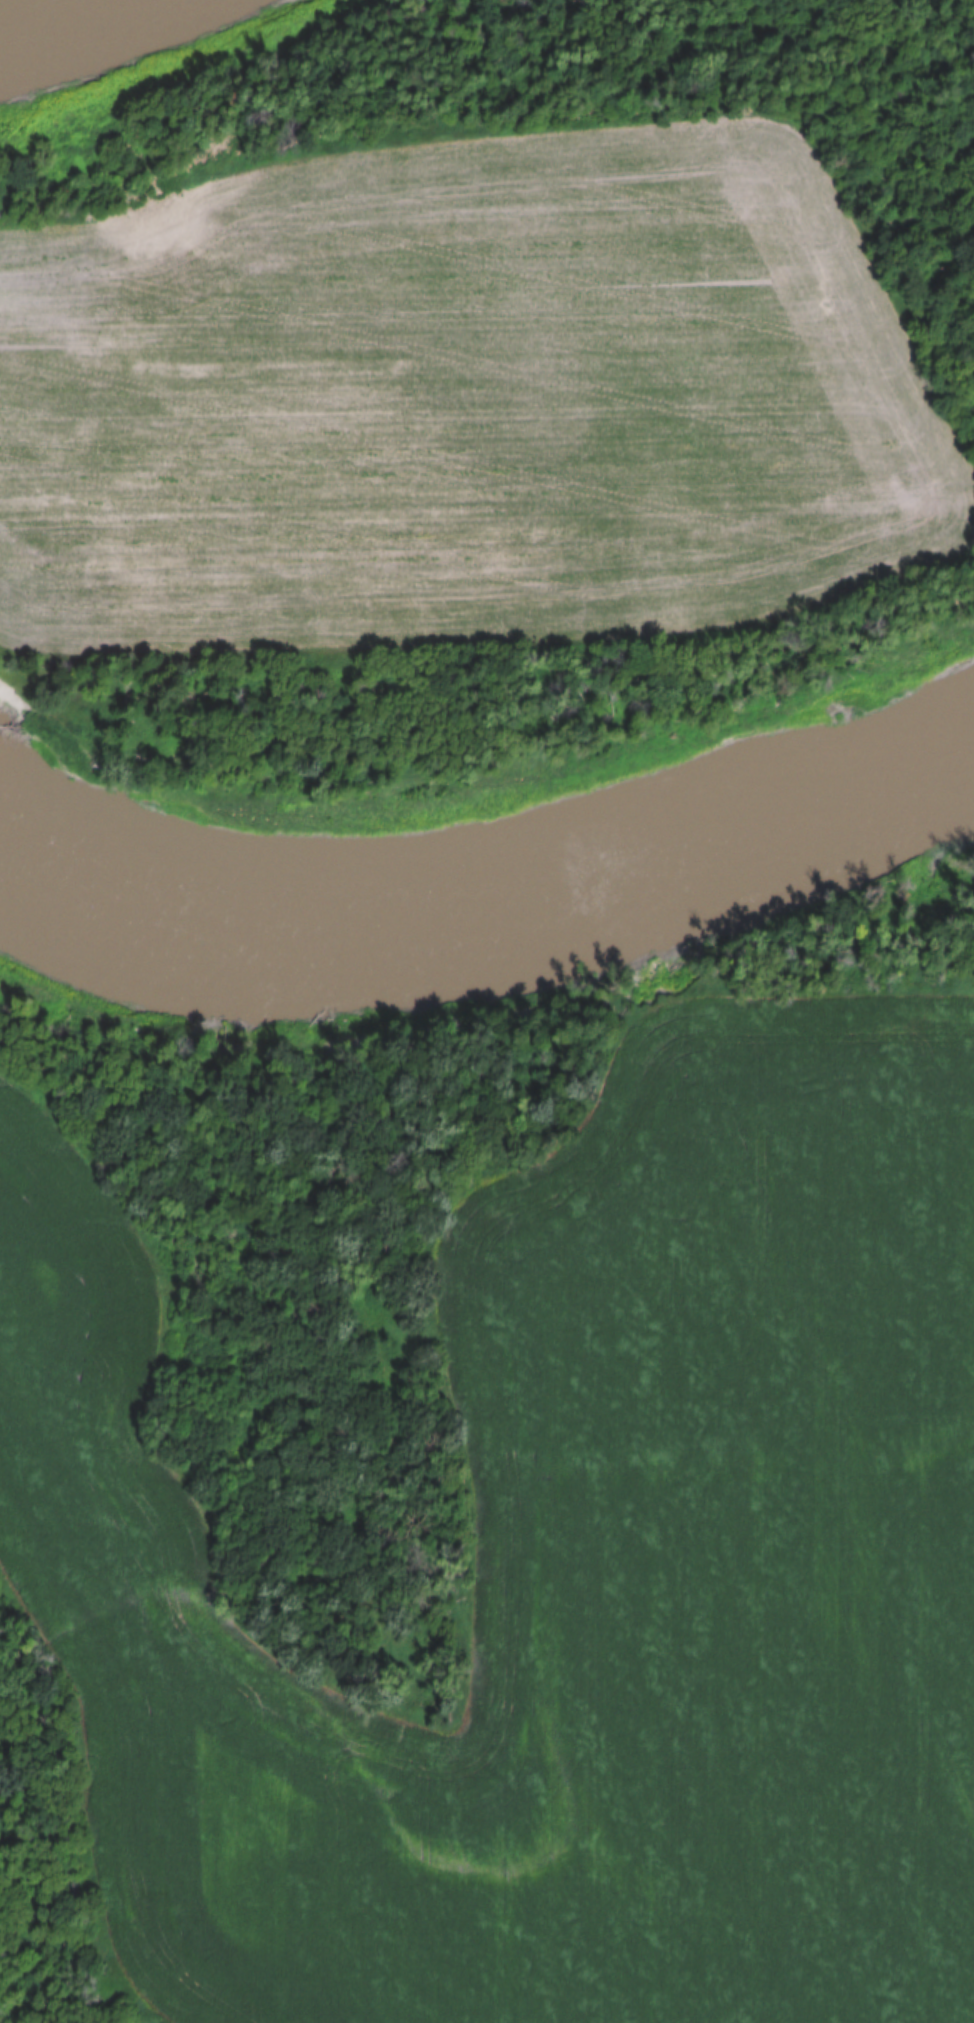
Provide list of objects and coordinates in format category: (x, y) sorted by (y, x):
river: (43, 10)
river: (490, 899)

